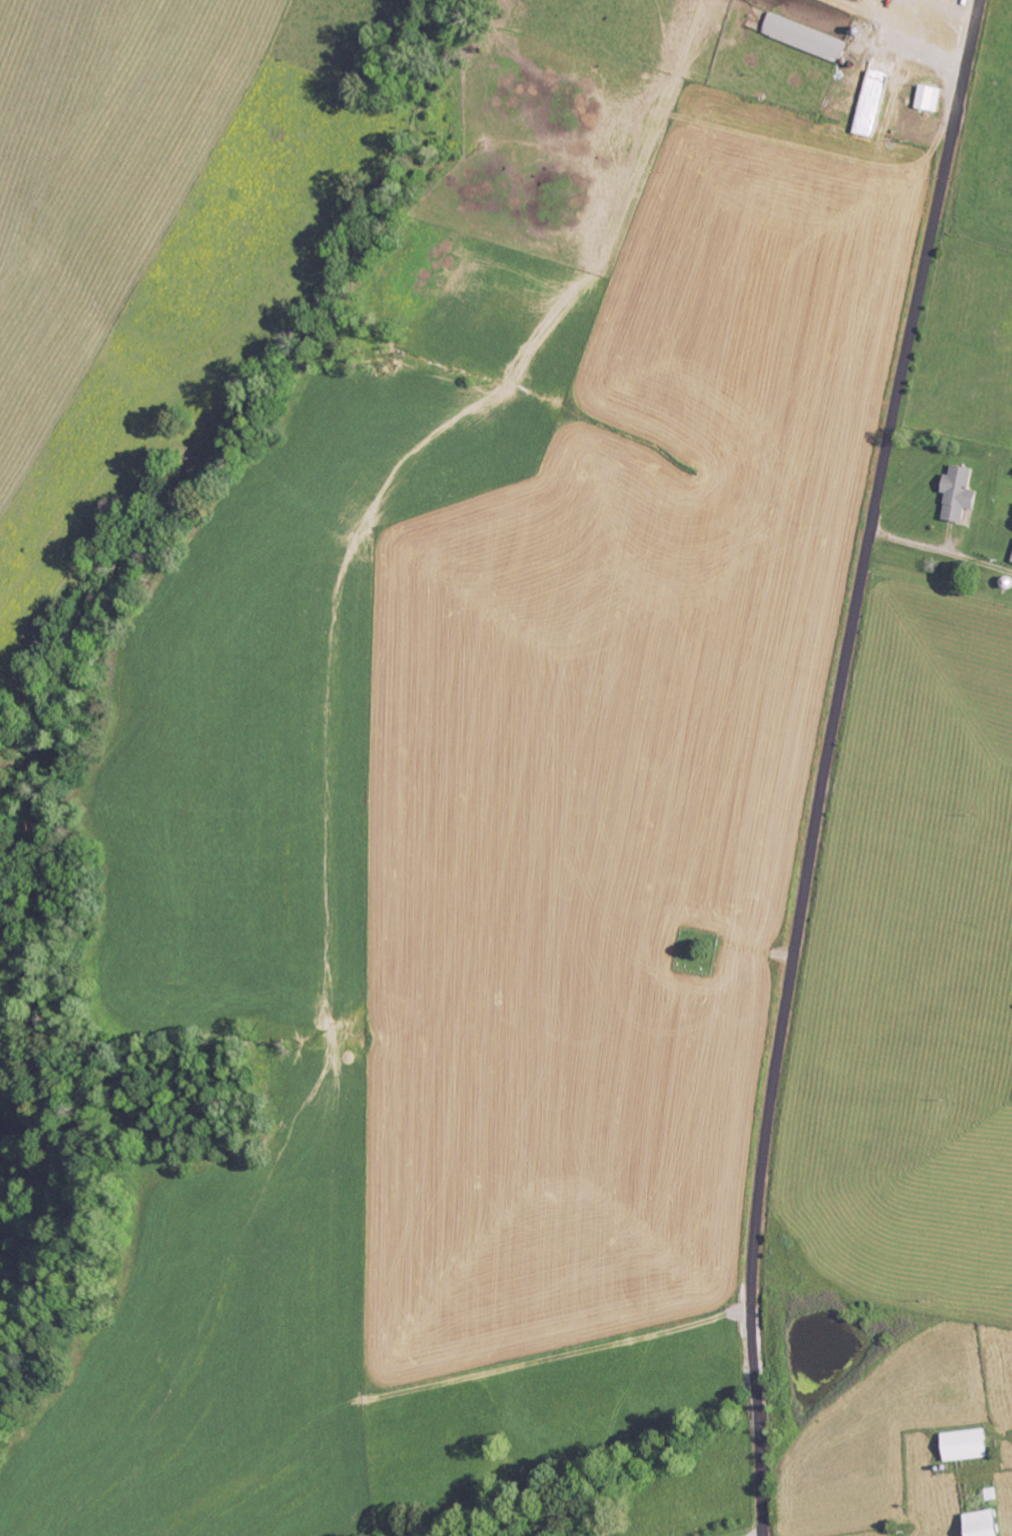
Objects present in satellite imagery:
building: (805, 38)
building: (929, 98)
building: (960, 493)
road: (825, 763)
building: (968, 1445)
building: (986, 1523)

